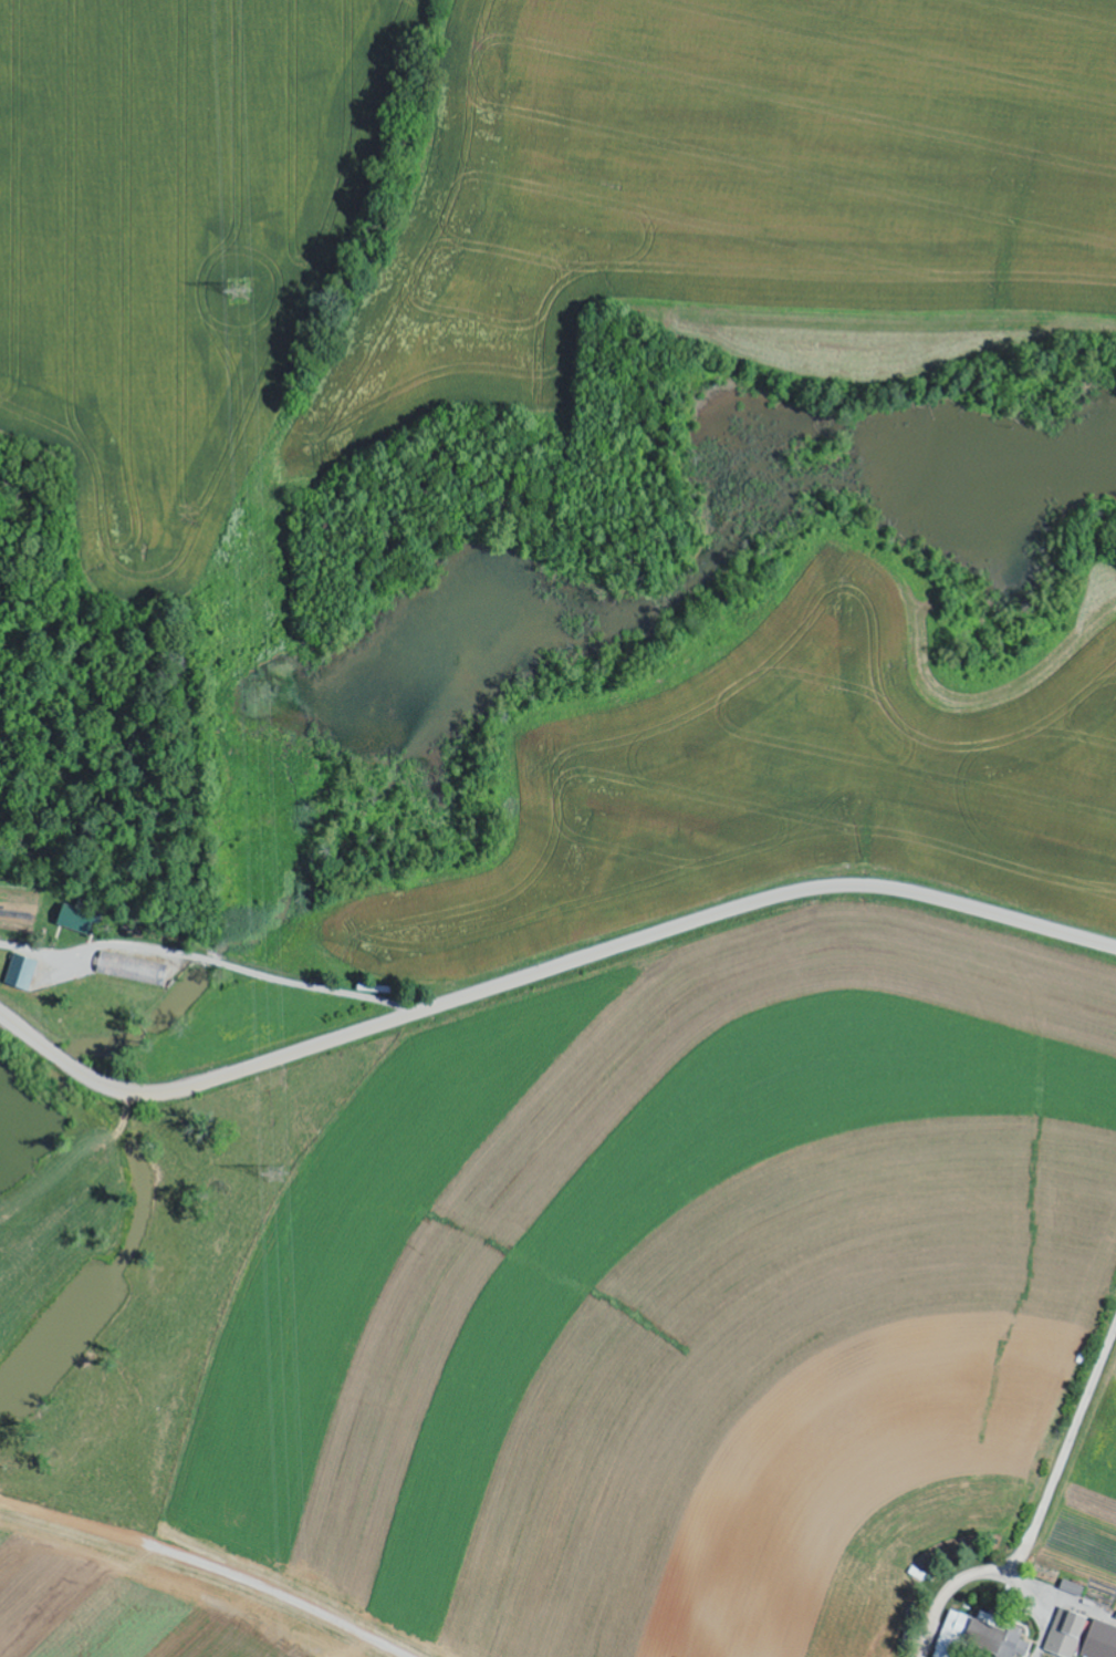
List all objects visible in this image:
power tower: (240, 292)
building: (75, 921)
building: (131, 970)
road: (546, 971)
building: (21, 972)
power tower: (263, 1181)
road: (1042, 1514)
building: (1072, 1588)
building: (1074, 1636)
building: (979, 1638)

